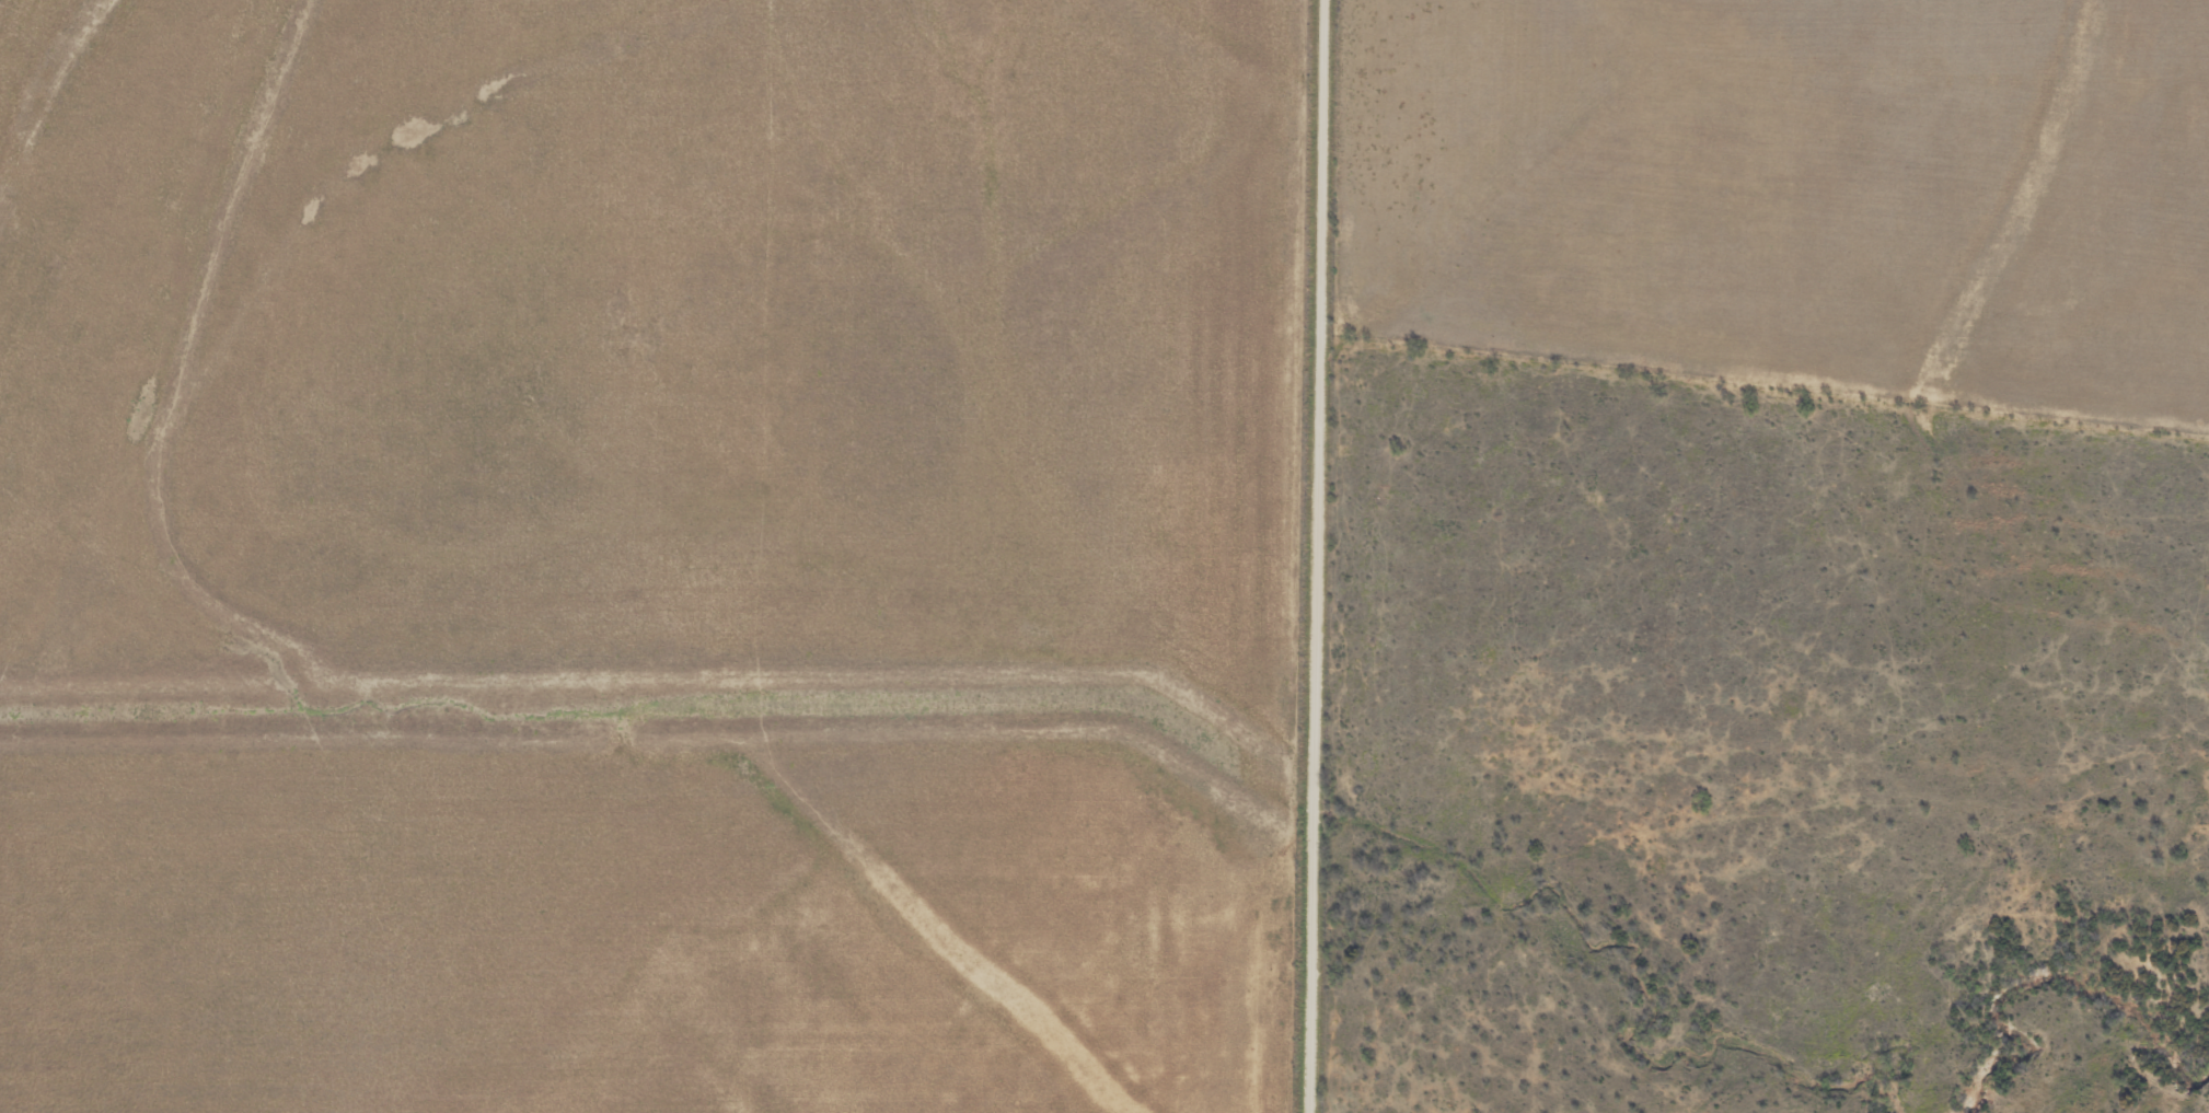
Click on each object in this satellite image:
road: (1318, 556)

